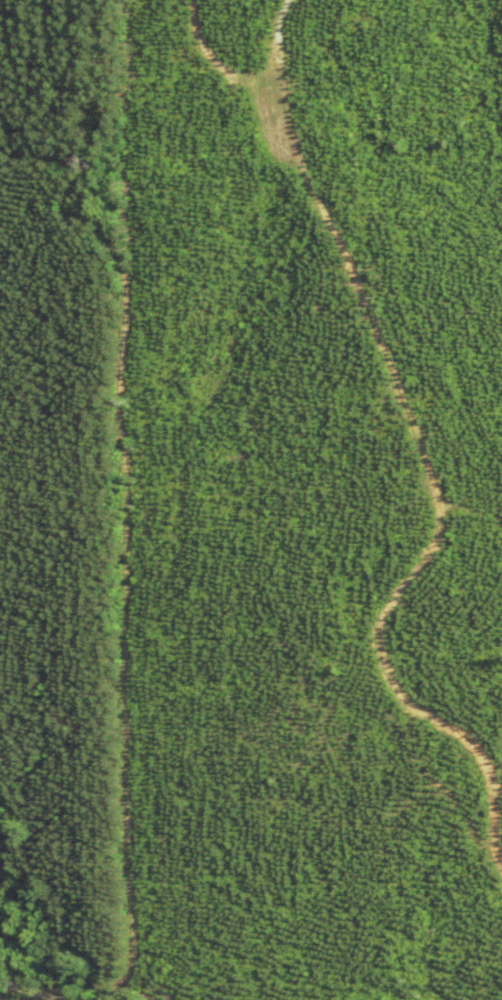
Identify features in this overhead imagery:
road: (28, 992)

